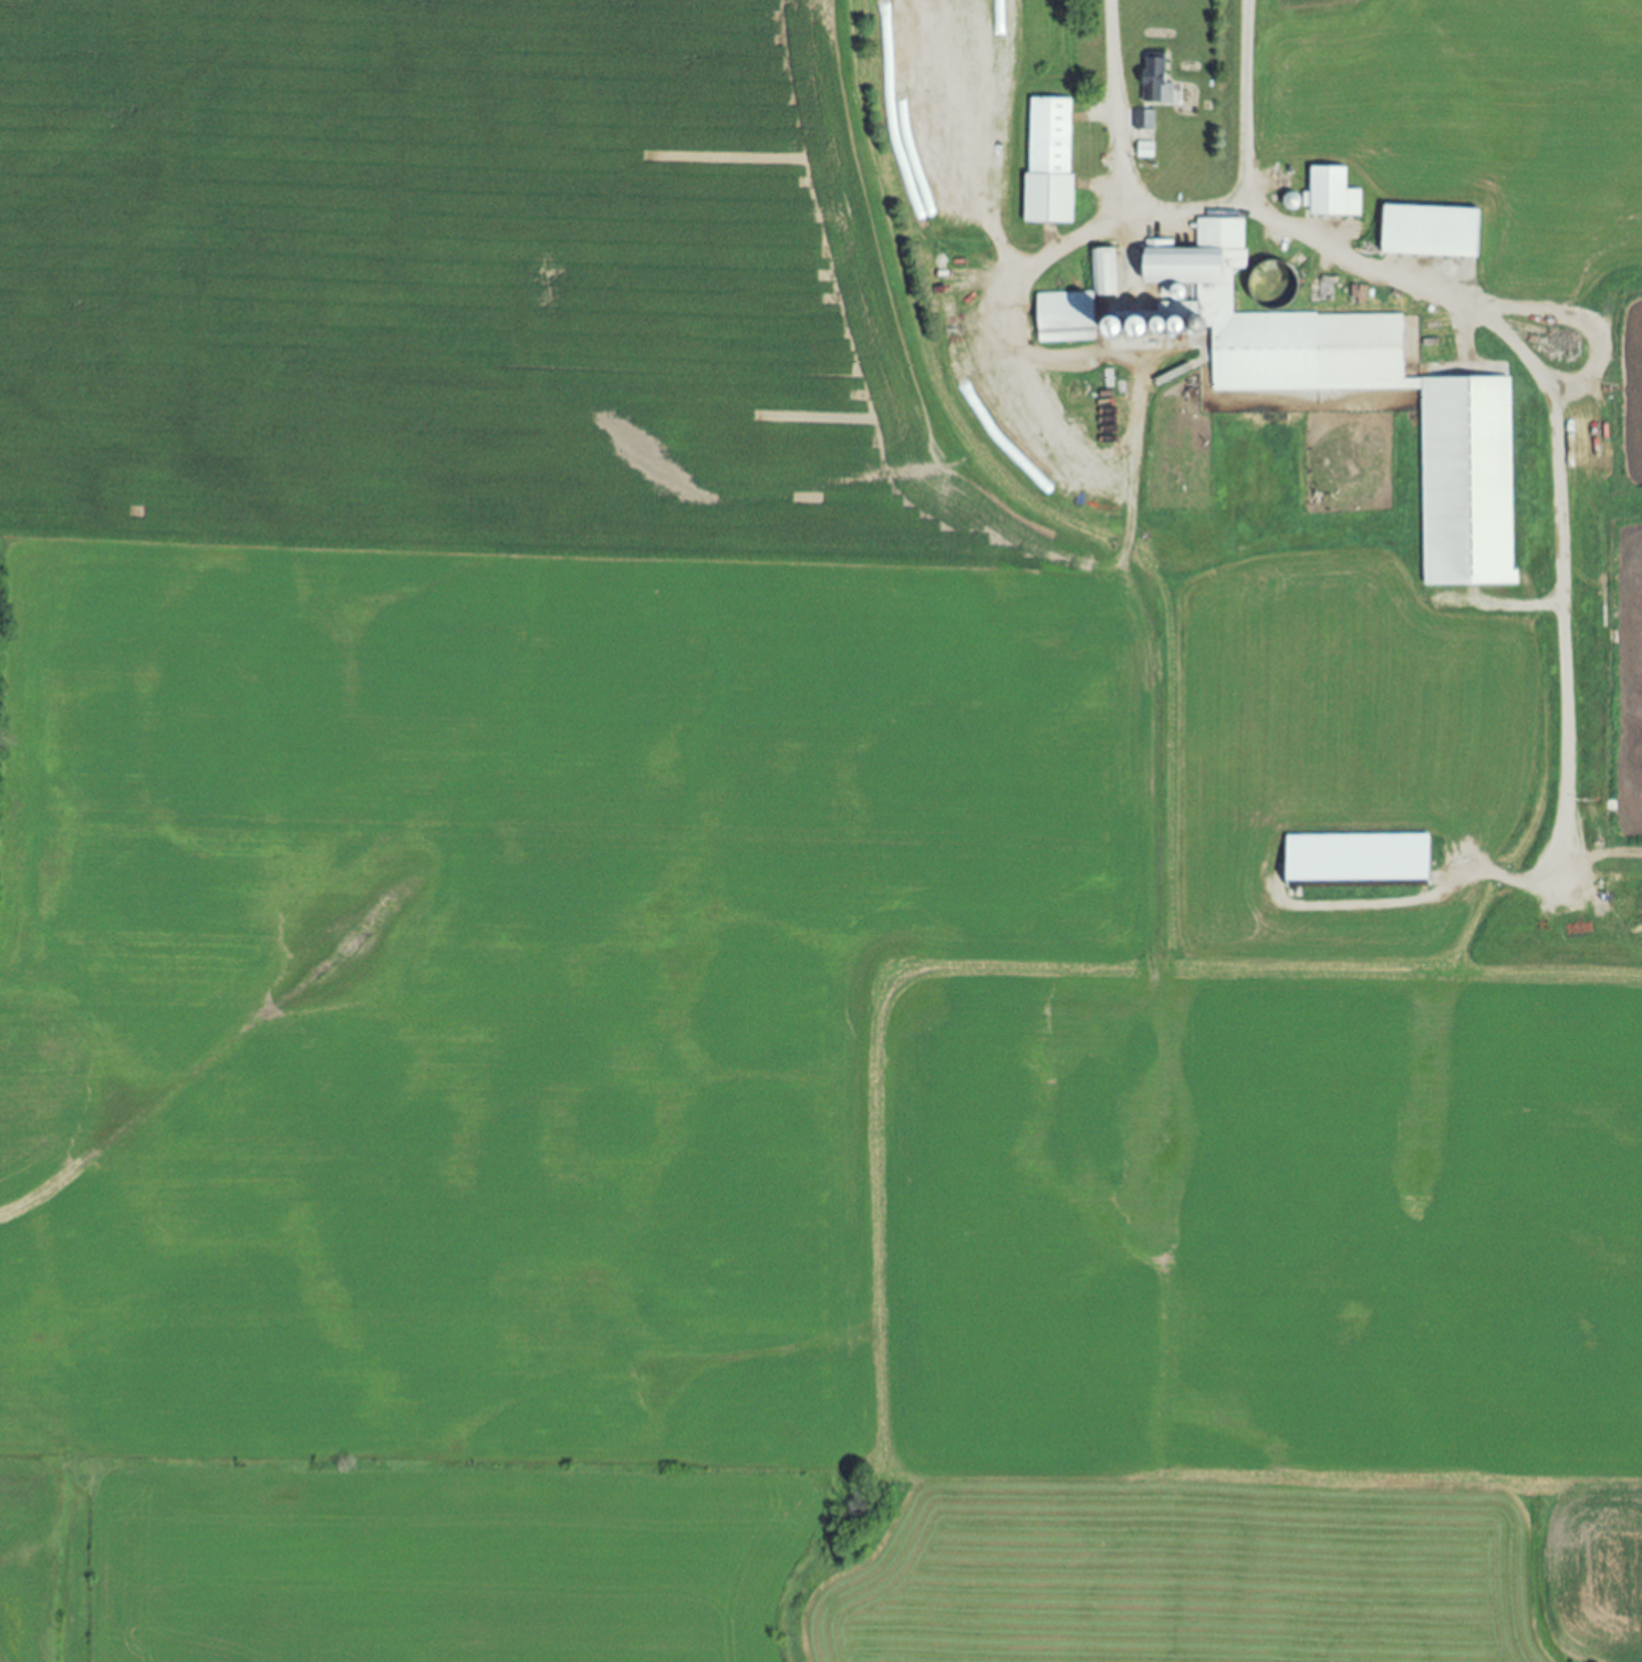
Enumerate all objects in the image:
building: (1155, 81)
building: (1143, 121)
building: (1143, 150)
building: (1049, 160)
building: (1332, 193)
road: (1186, 214)
building: (1430, 231)
building: (1270, 272)
road: (1019, 313)
building: (1064, 319)
road: (1560, 453)
building: (1467, 488)
building: (1355, 862)

